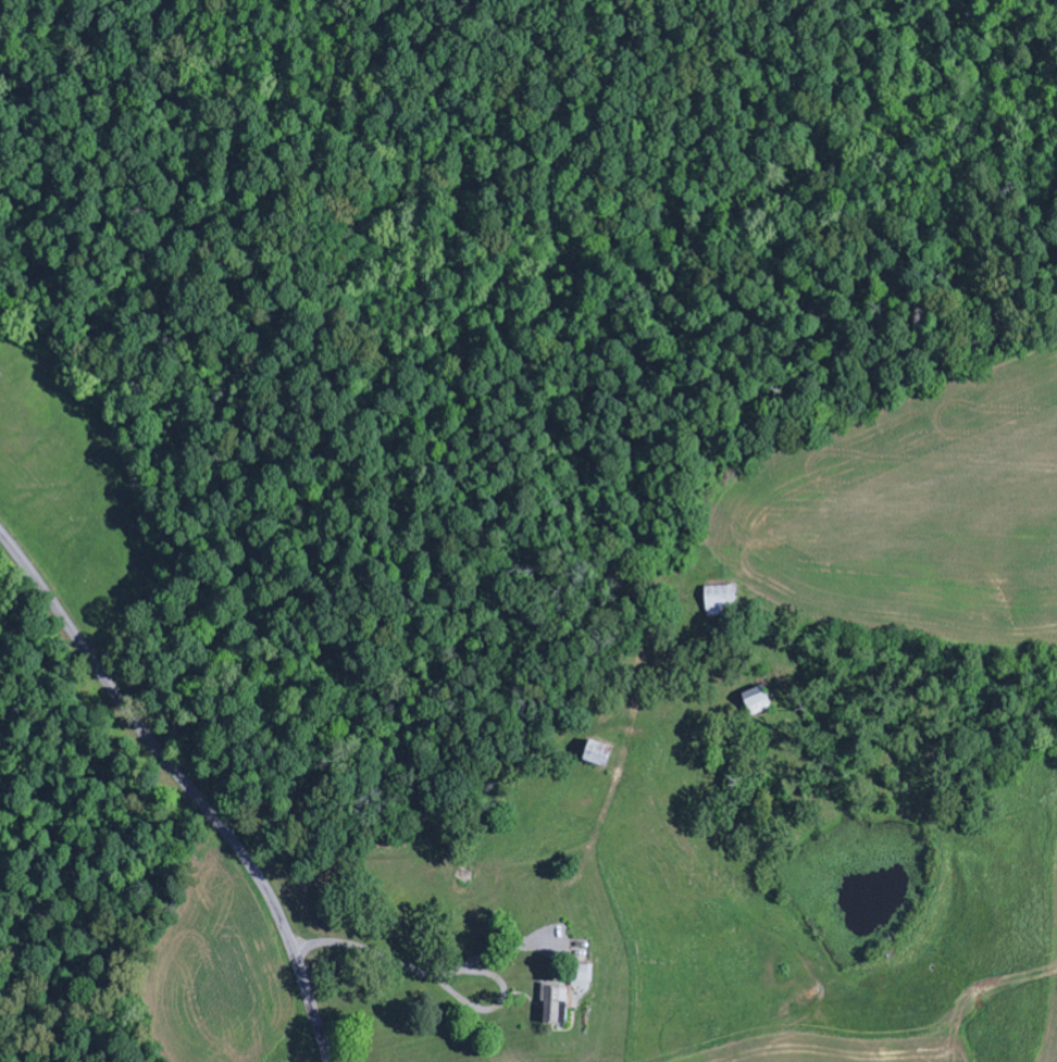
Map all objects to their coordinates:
building: (723, 599)
building: (761, 700)
building: (602, 754)
road: (189, 786)
building: (559, 1005)

